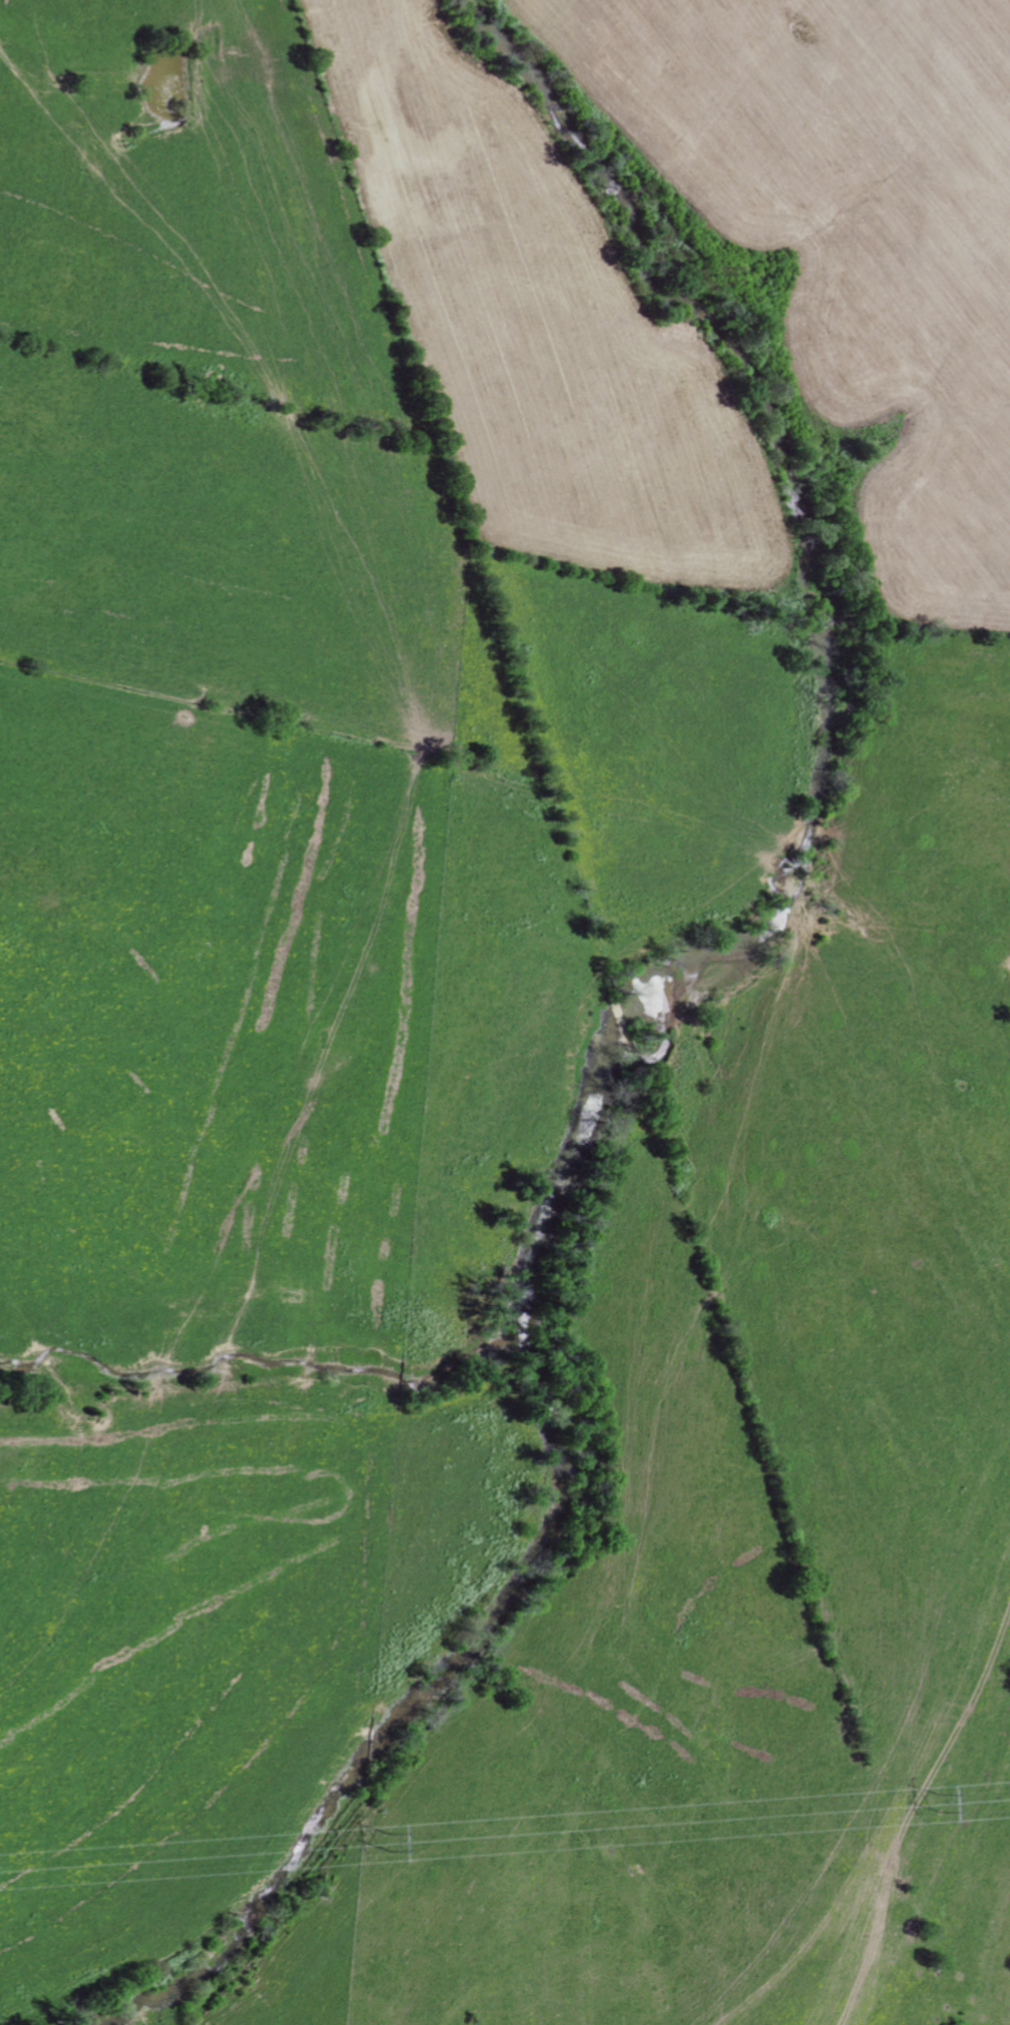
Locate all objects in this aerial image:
power tower: (939, 1803)
power tower: (391, 1844)

